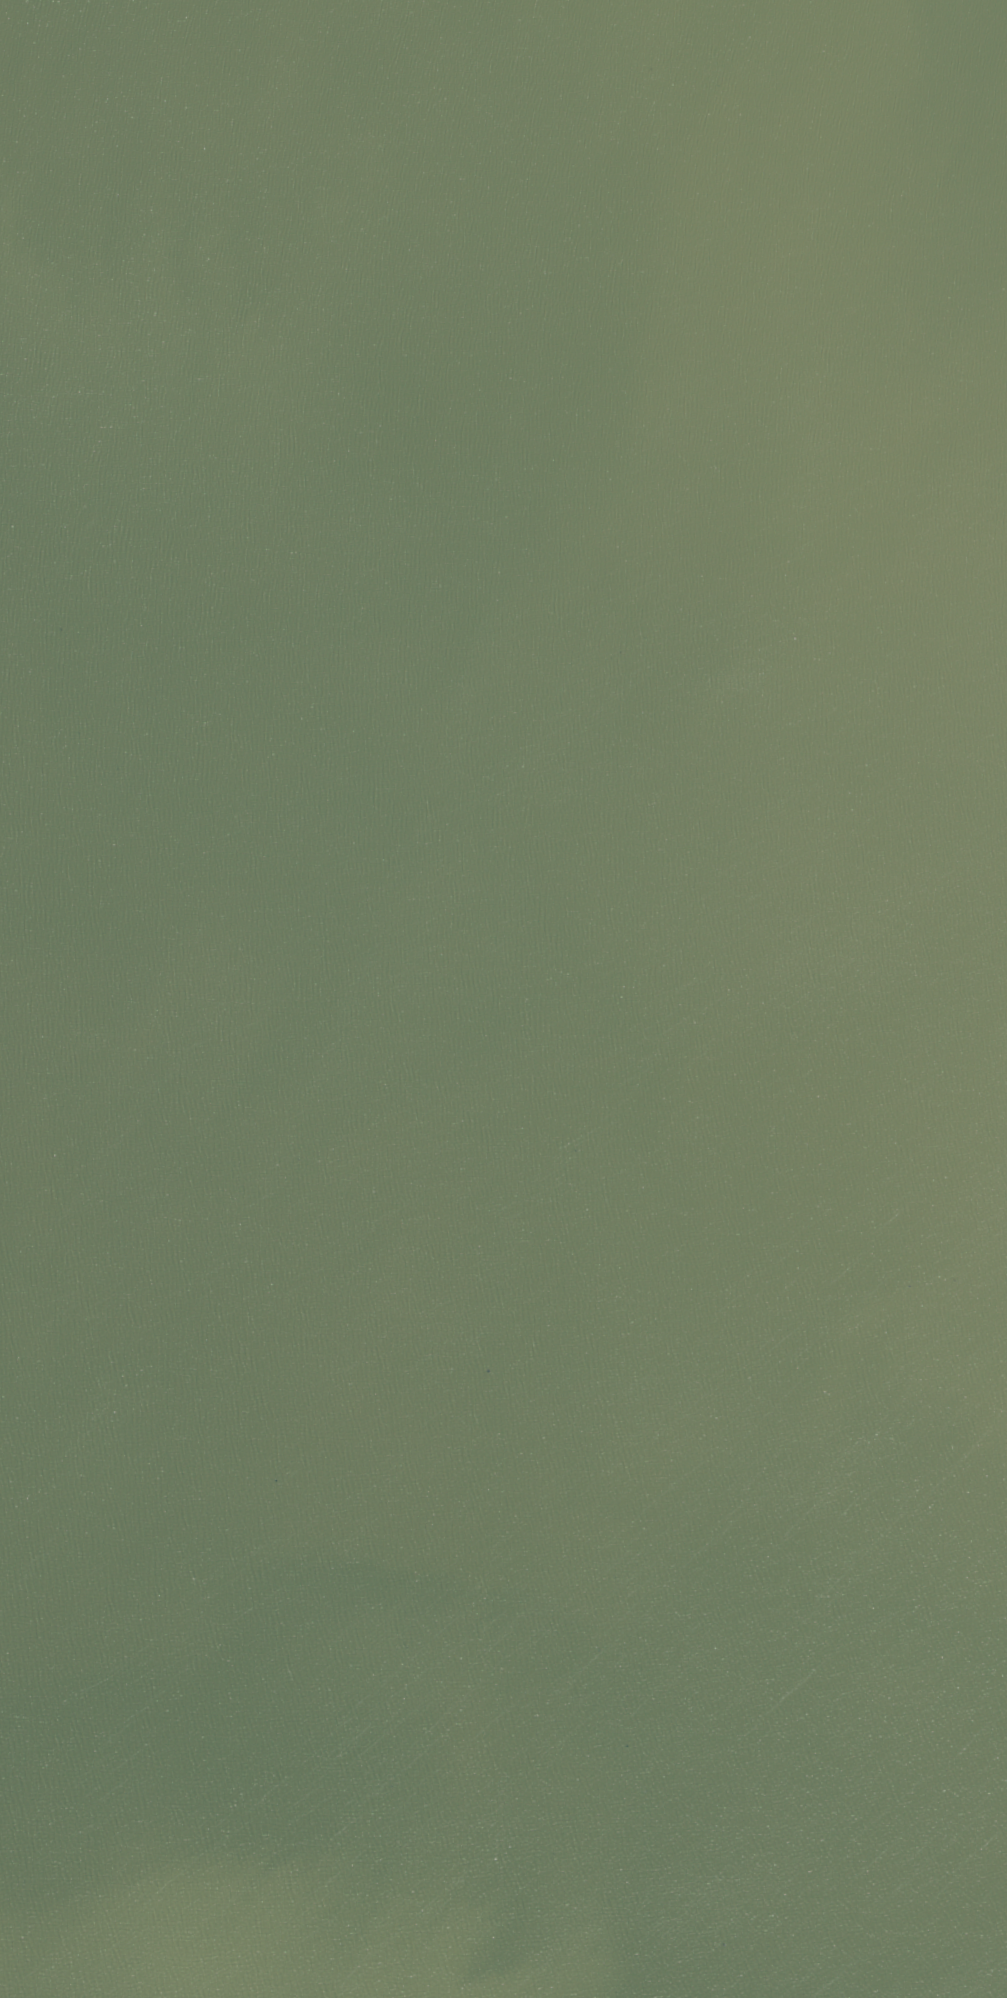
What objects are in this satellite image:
river: (517, 356)

